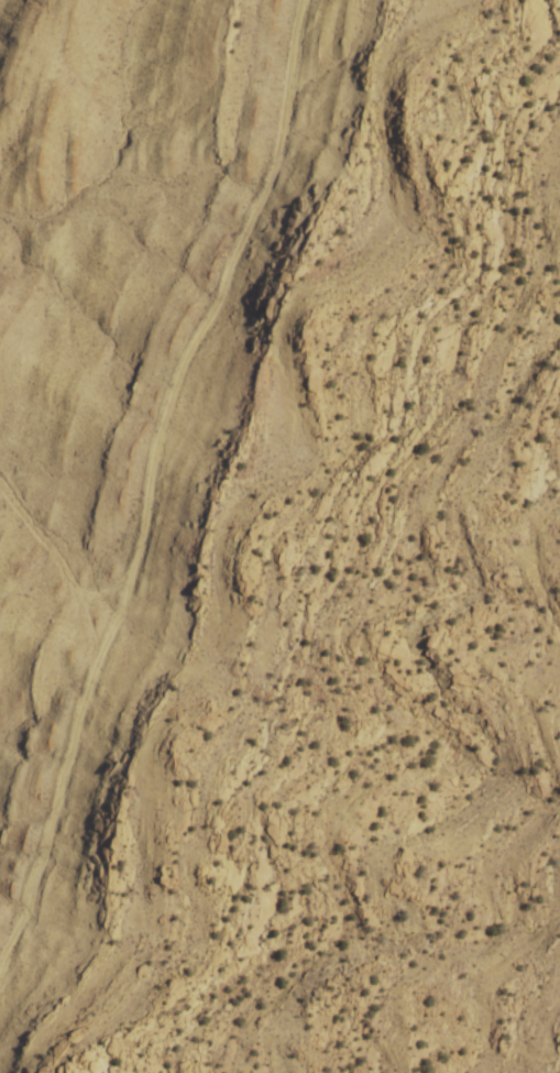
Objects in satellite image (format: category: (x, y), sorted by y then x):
road: (162, 262)

